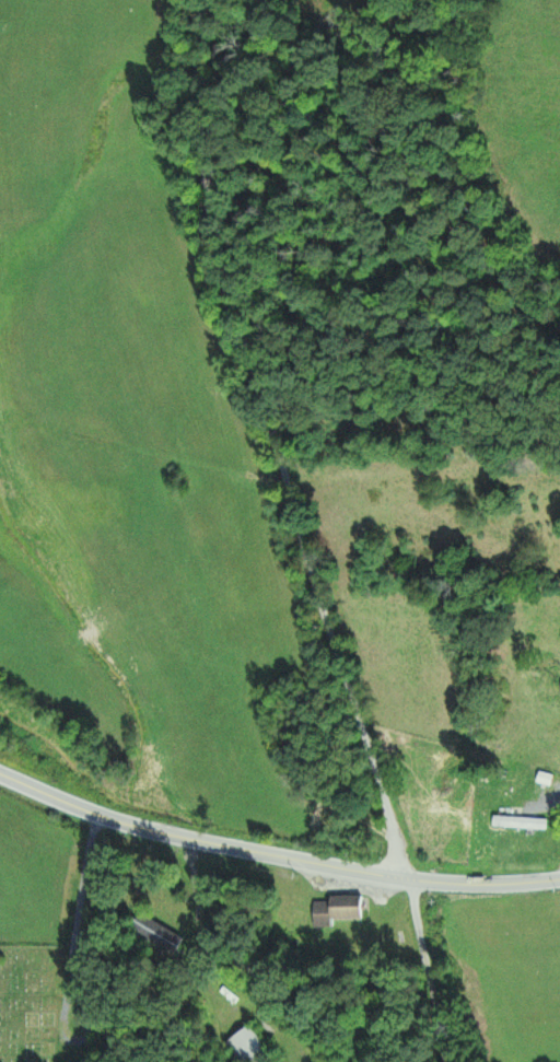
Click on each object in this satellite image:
road: (232, 452)
building: (520, 822)
road: (276, 849)
building: (337, 910)
building: (150, 930)
road: (349, 960)
building: (248, 1046)

